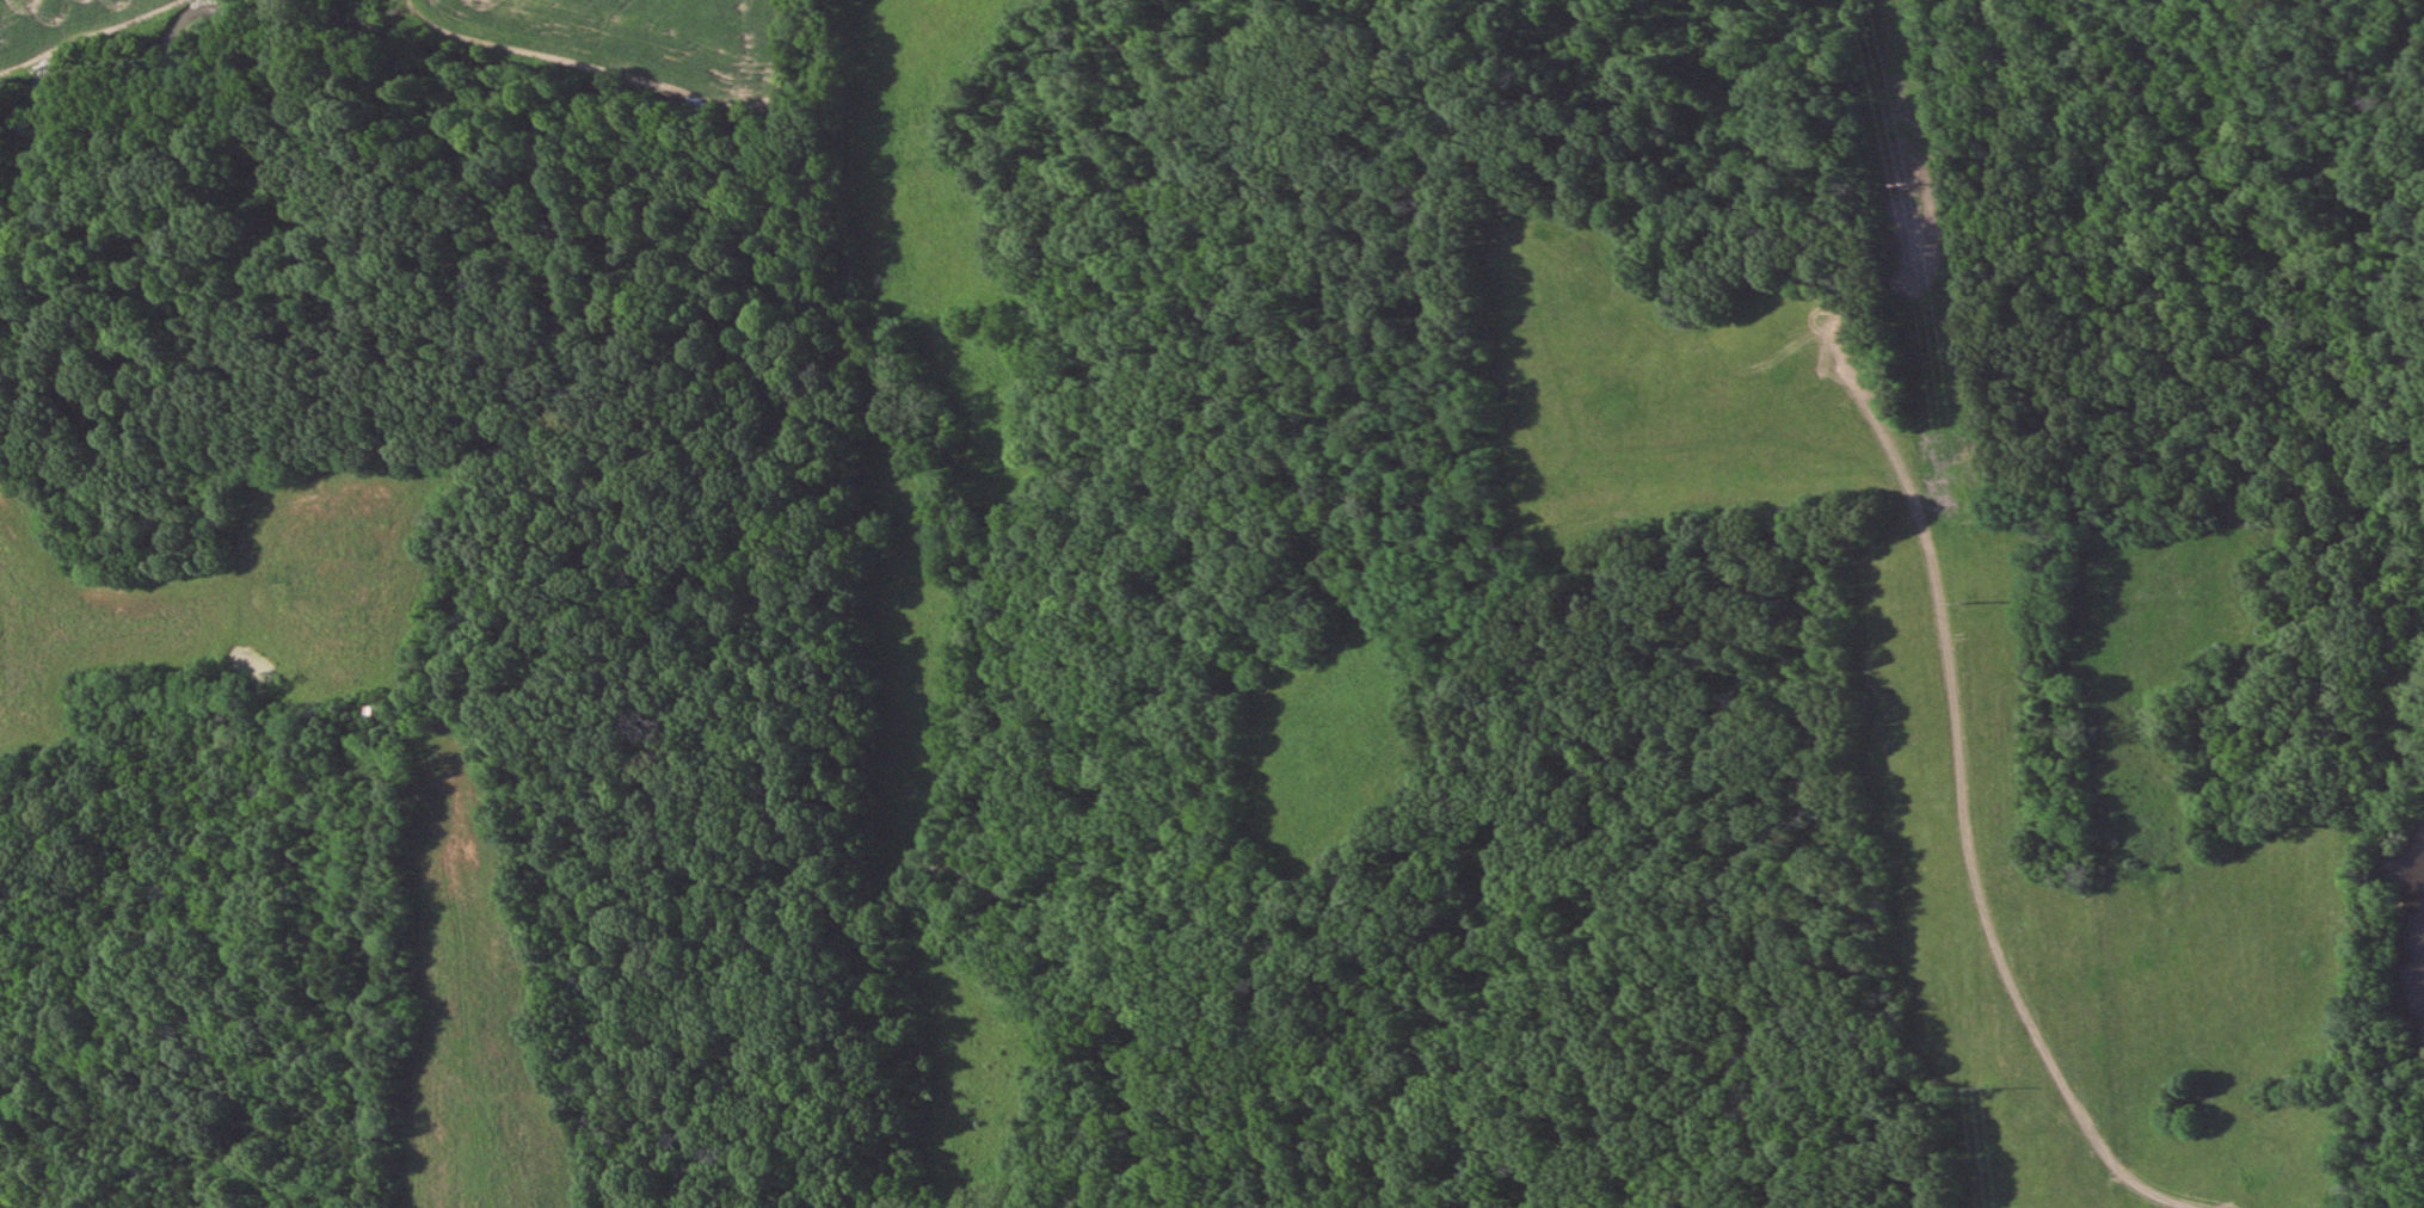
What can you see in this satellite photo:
power tower: (1902, 178)
power tower: (1974, 603)
power tower: (1985, 1091)

